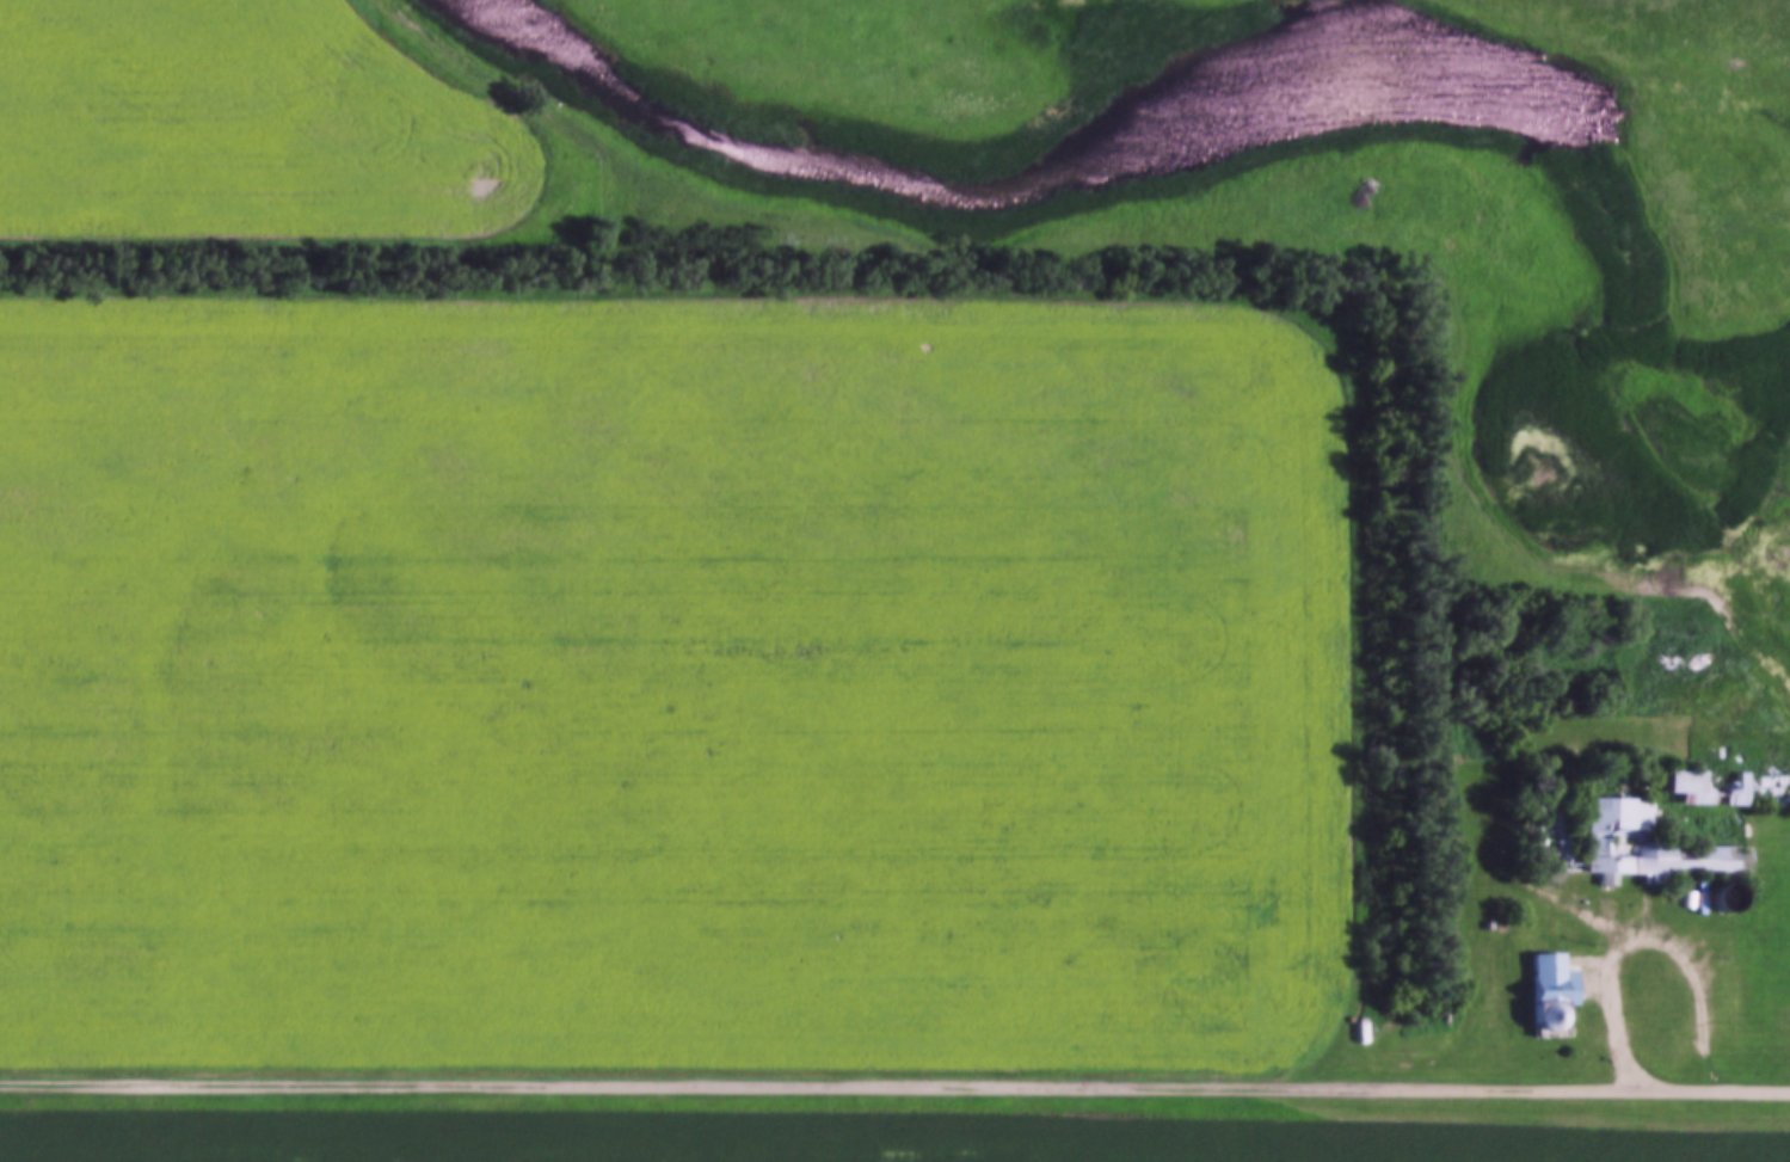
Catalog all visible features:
building: (1709, 787)
building: (1772, 789)
building: (1613, 836)
road: (1650, 915)
building: (1546, 991)
road: (811, 1081)
road: (1706, 1084)

